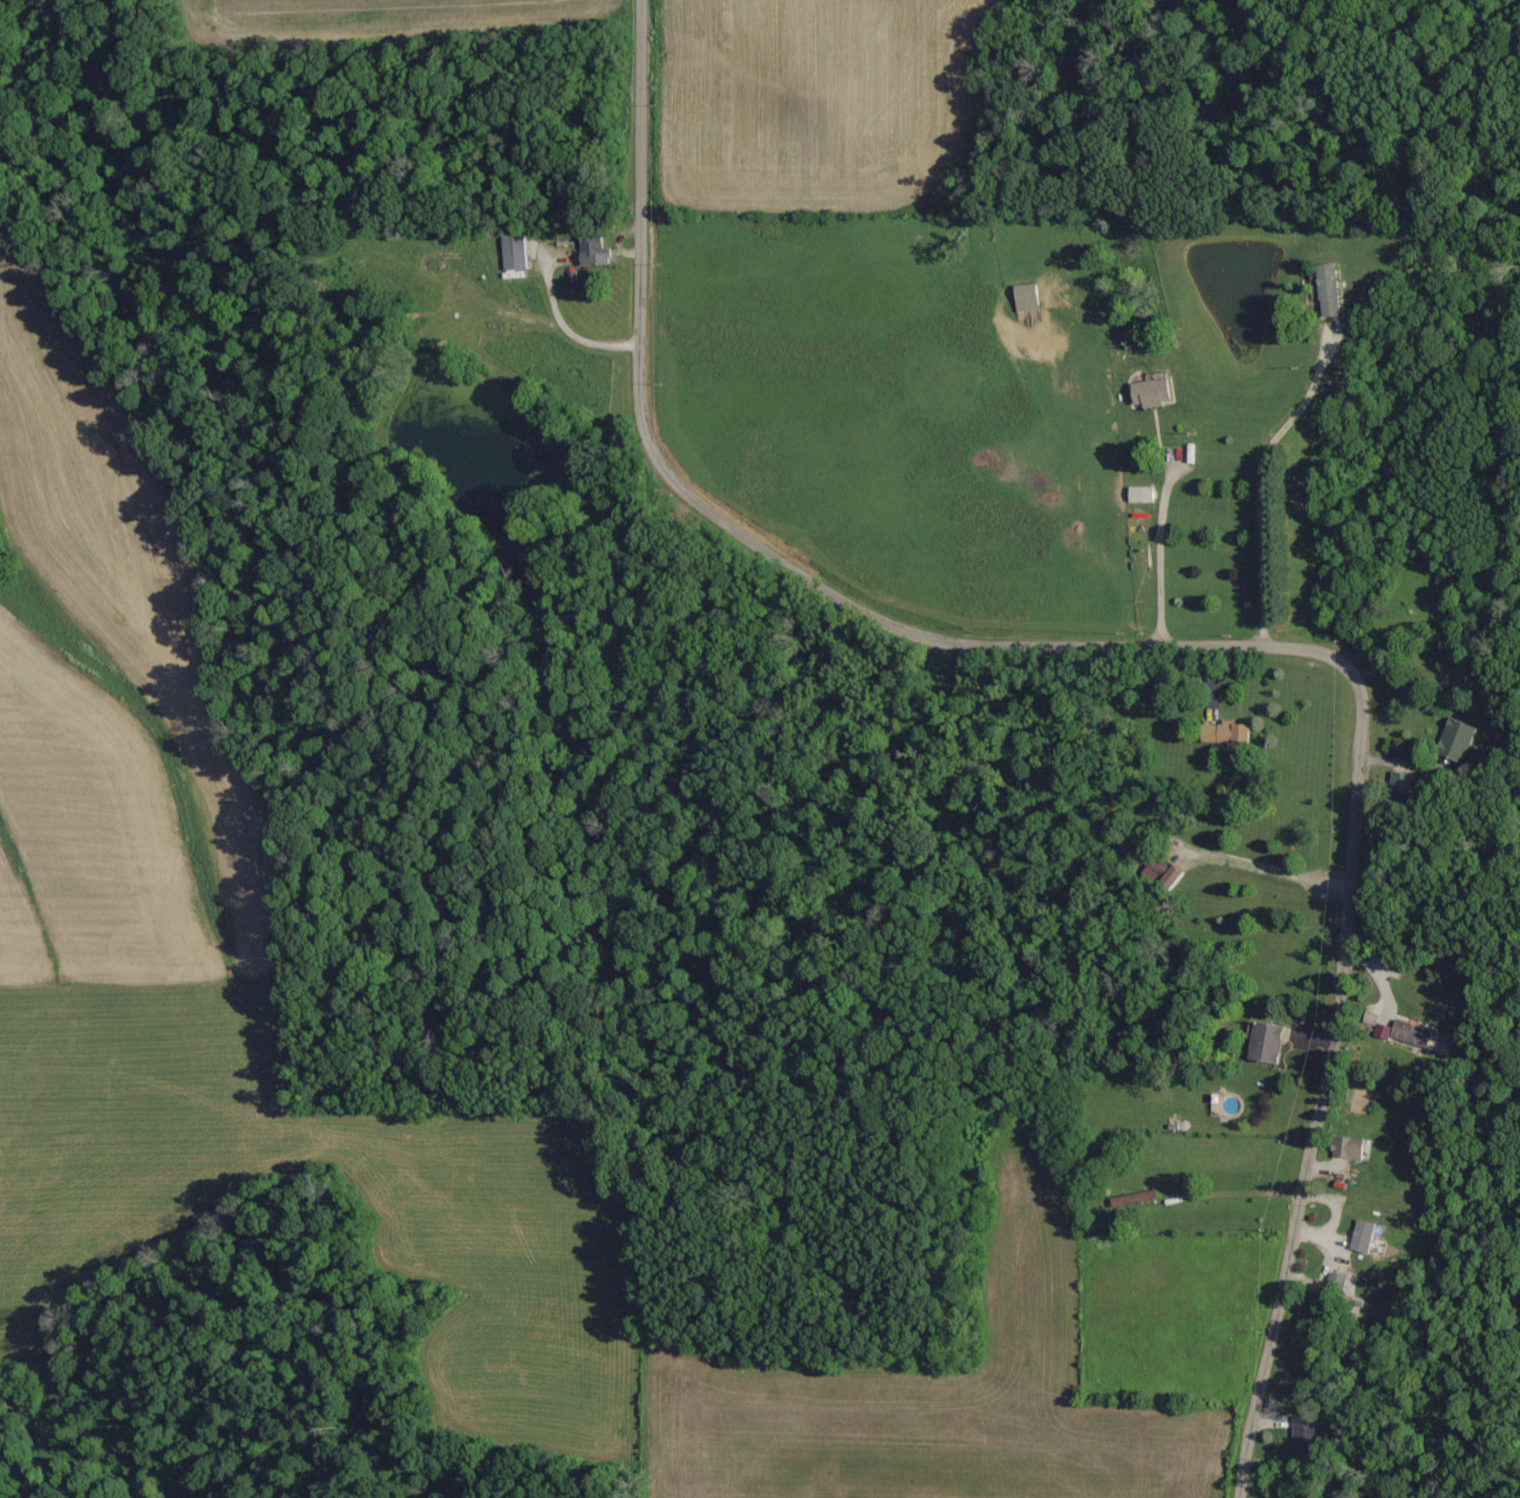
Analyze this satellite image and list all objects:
building: (515, 252)
building: (1331, 289)
building: (1029, 297)
building: (1154, 392)
road: (1257, 485)
building: (1142, 495)
road: (1158, 554)
road: (1166, 644)
building: (1227, 733)
building: (1458, 740)
road: (1270, 870)
building: (1173, 877)
building: (1407, 1033)
building: (1268, 1042)
building: (1351, 1149)
building: (1364, 1236)
building: (1335, 1288)
building: (1308, 1438)

